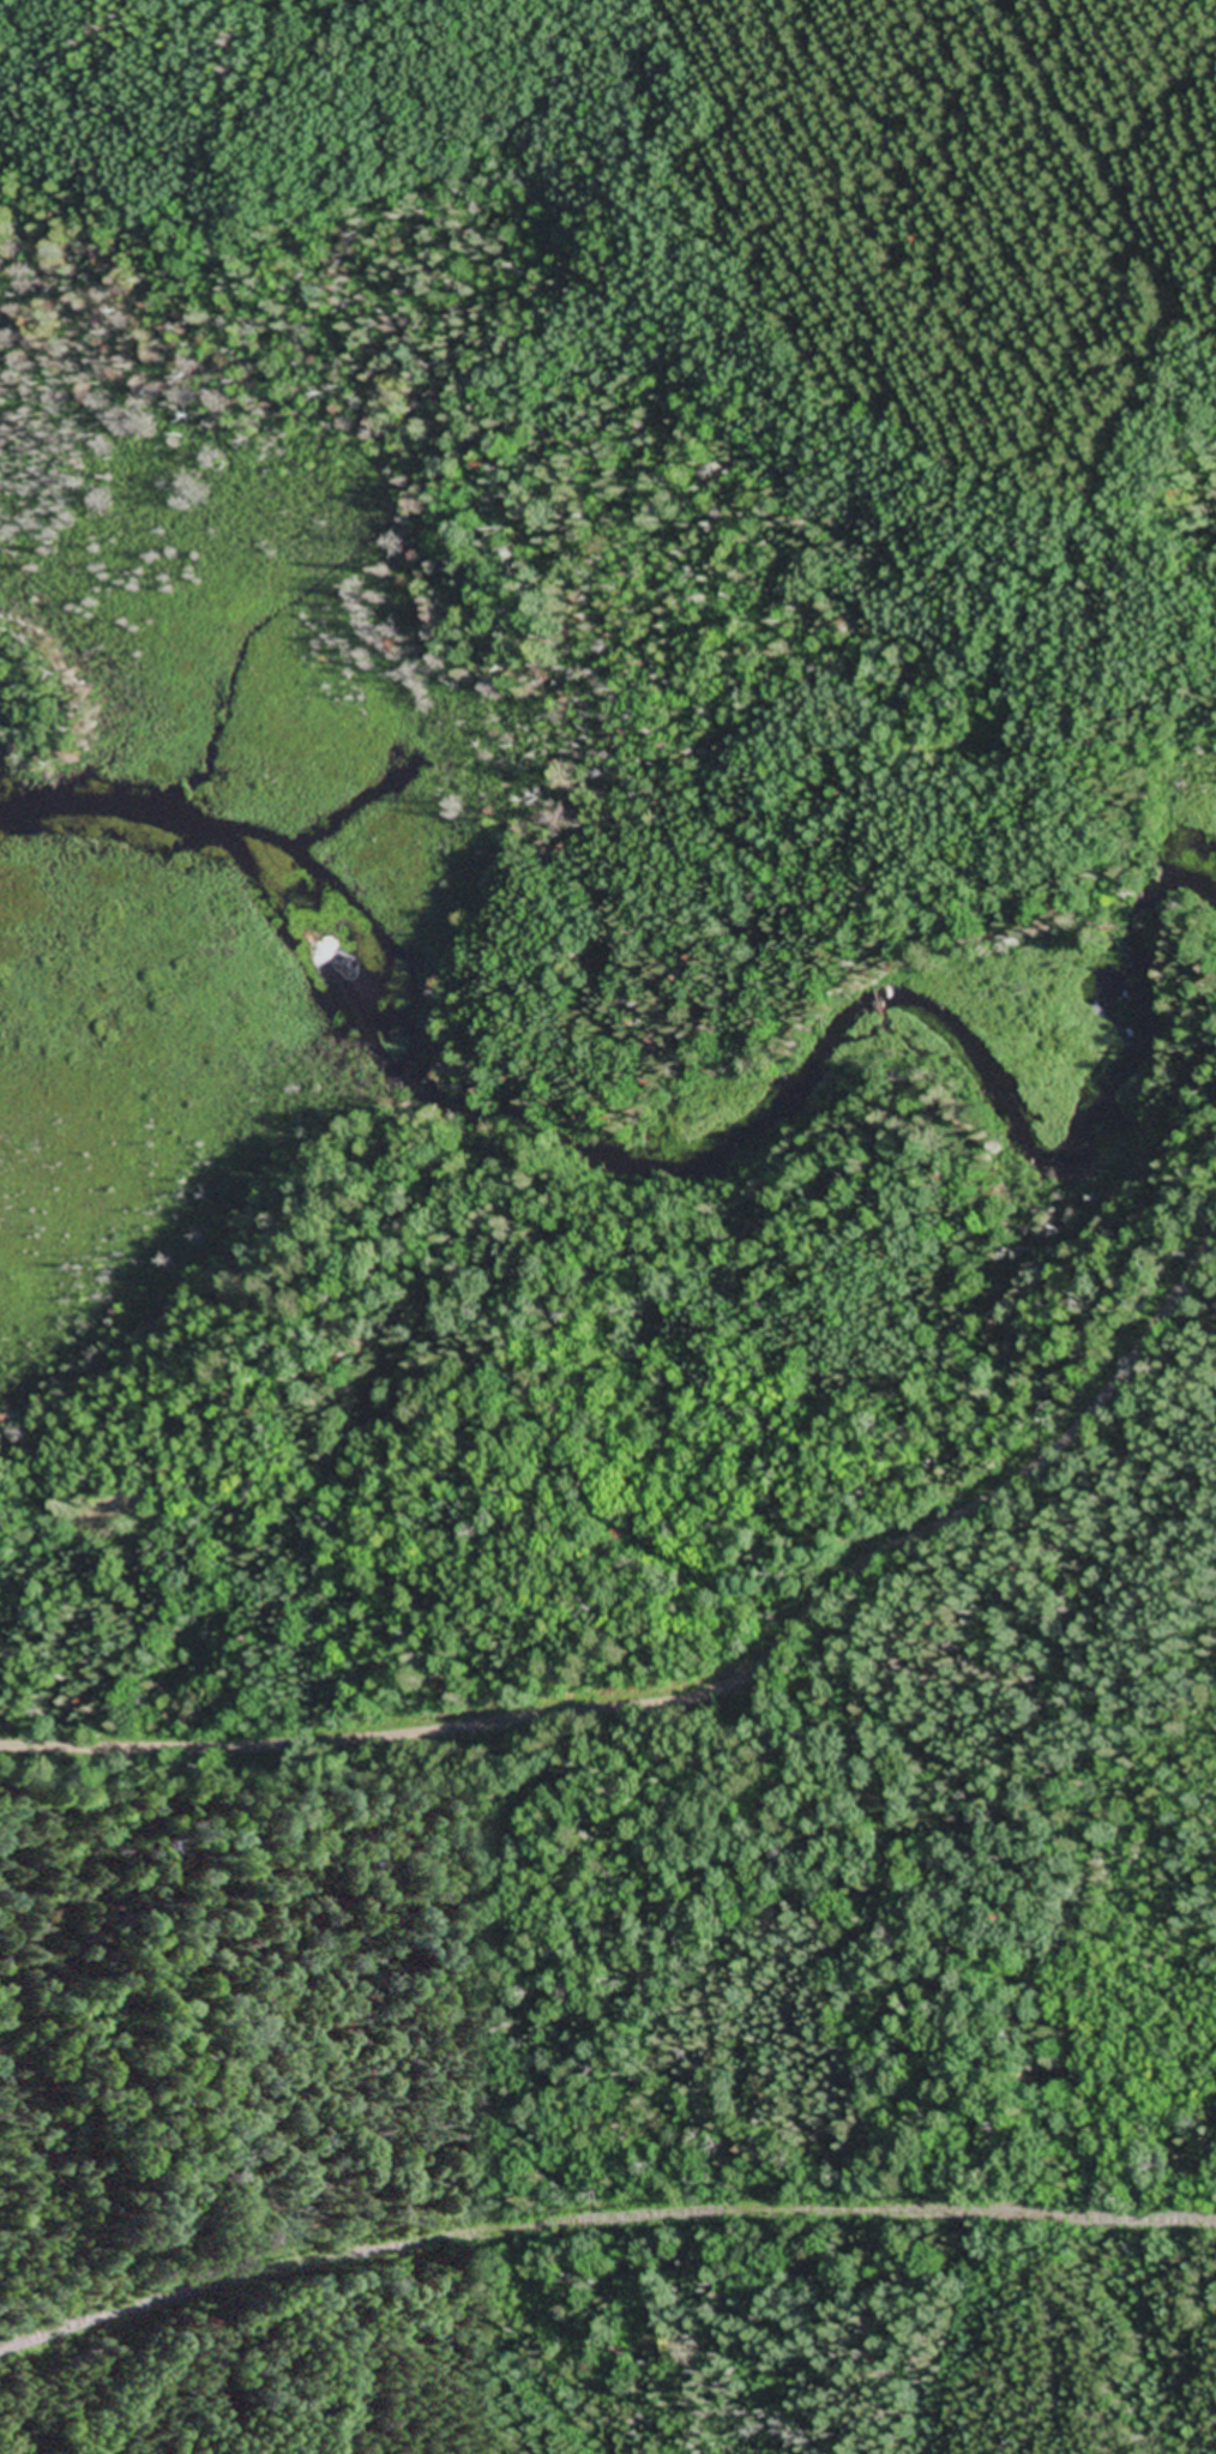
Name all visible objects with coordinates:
road: (1116, 335)
road: (706, 1700)
railway: (600, 2219)

